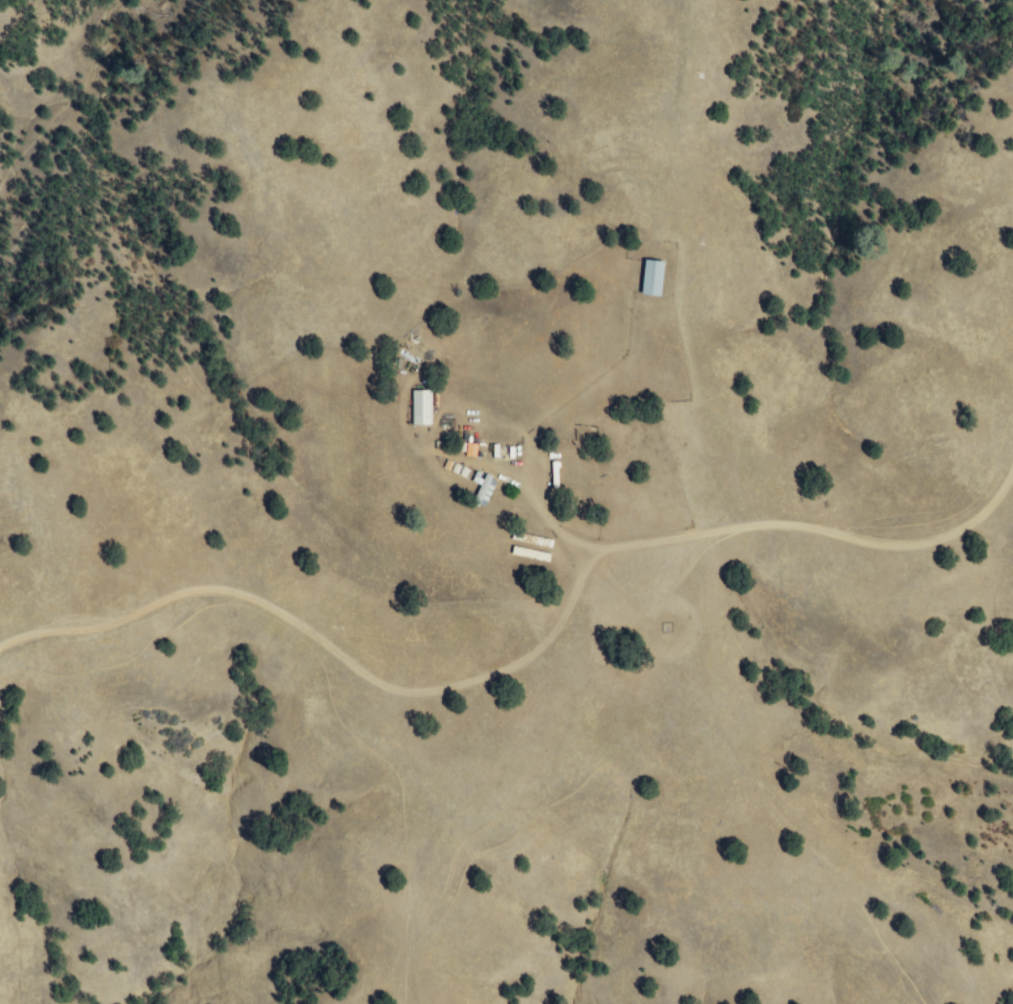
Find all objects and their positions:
building: (653, 276)
building: (421, 406)

